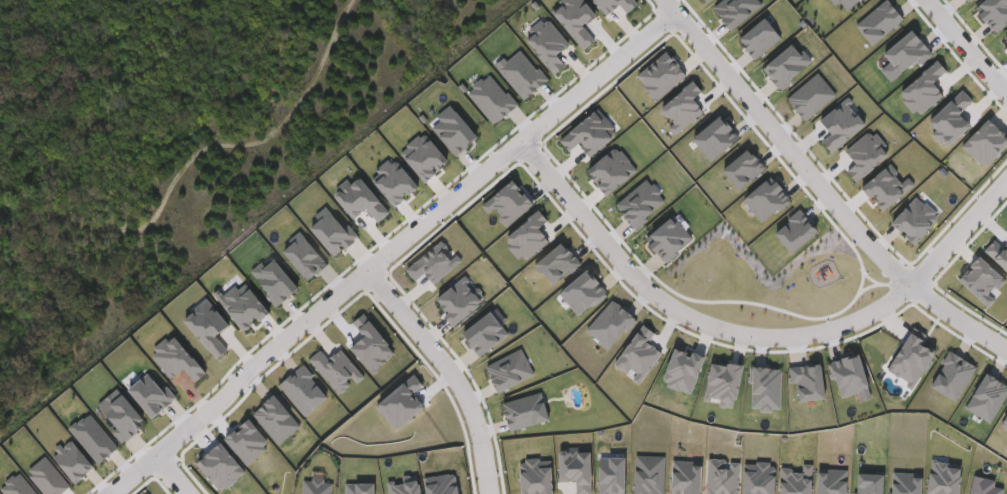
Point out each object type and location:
road: (967, 48)
road: (195, 157)
road: (823, 186)
road: (387, 256)
road: (747, 339)
road: (452, 372)
road: (166, 475)

